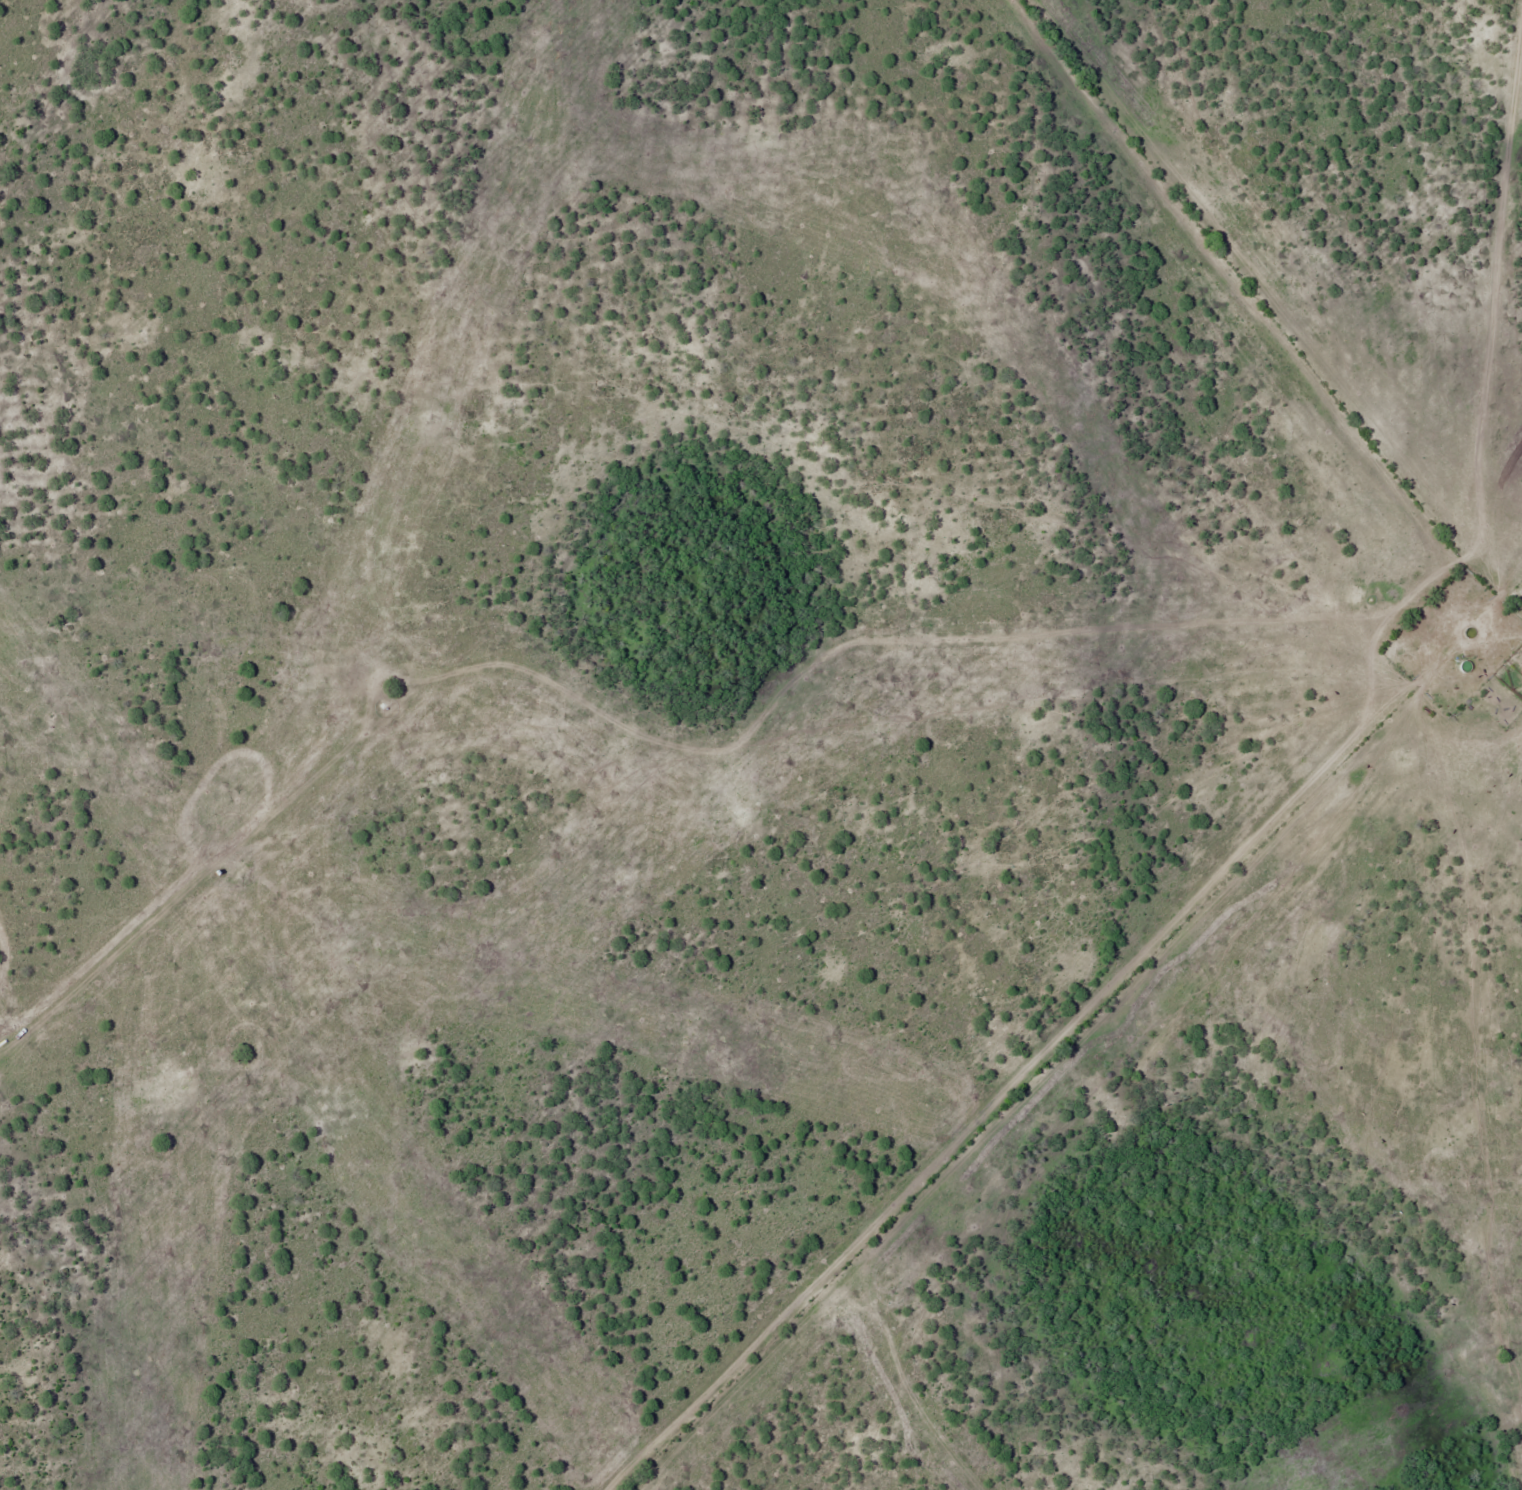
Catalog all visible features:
road: (1343, 502)
road: (759, 859)

